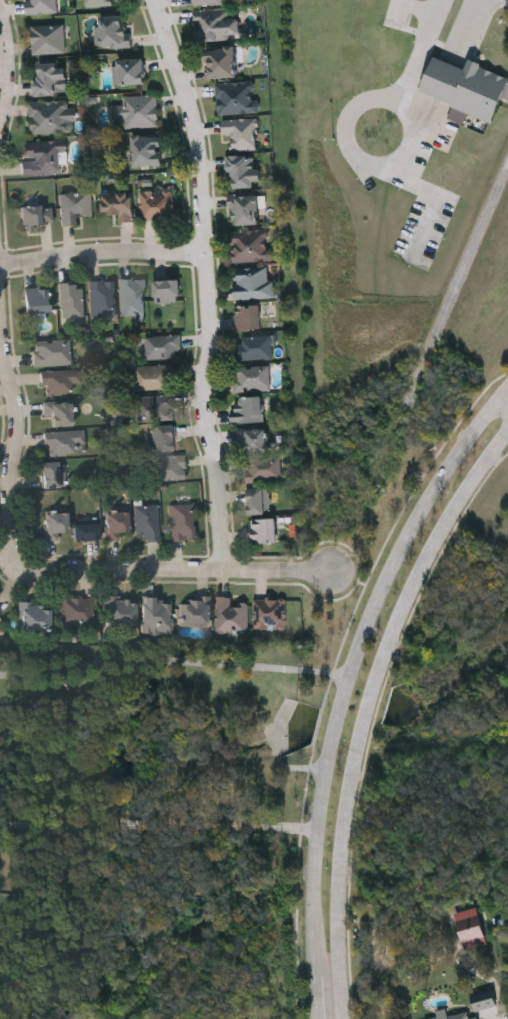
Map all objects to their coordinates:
building: (98, 2)
building: (208, 2)
building: (40, 6)
road: (471, 25)
building: (215, 26)
building: (111, 33)
building: (48, 38)
building: (221, 62)
building: (128, 71)
road: (7, 73)
building: (49, 78)
building: (466, 89)
building: (236, 97)
building: (137, 111)
building: (51, 116)
road: (379, 132)
building: (241, 133)
building: (147, 151)
building: (44, 158)
building: (243, 171)
building: (118, 205)
building: (156, 205)
building: (74, 206)
building: (245, 210)
building: (36, 216)
building: (250, 244)
road: (102, 252)
road: (209, 283)
building: (253, 283)
building: (167, 290)
building: (132, 295)
building: (101, 297)
building: (36, 299)
building: (70, 299)
building: (247, 315)
building: (162, 346)
building: (254, 347)
building: (51, 353)
building: (153, 376)
building: (251, 377)
building: (59, 380)
road: (506, 387)
road: (506, 390)
building: (155, 407)
building: (247, 408)
building: (59, 412)
building: (165, 437)
building: (253, 438)
building: (64, 442)
building: (167, 467)
building: (262, 469)
building: (52, 474)
building: (258, 500)
road: (15, 521)
building: (146, 521)
building: (181, 521)
building: (54, 523)
building: (115, 523)
building: (263, 529)
building: (85, 530)
road: (284, 570)
building: (77, 610)
building: (118, 610)
building: (194, 610)
building: (269, 612)
building: (0, 614)
building: (230, 614)
building: (35, 615)
building: (156, 615)
road: (171, 661)
road: (348, 662)
road: (367, 709)
road: (158, 827)
building: (470, 928)
road: (318, 997)
building: (484, 1000)
building: (458, 1017)

